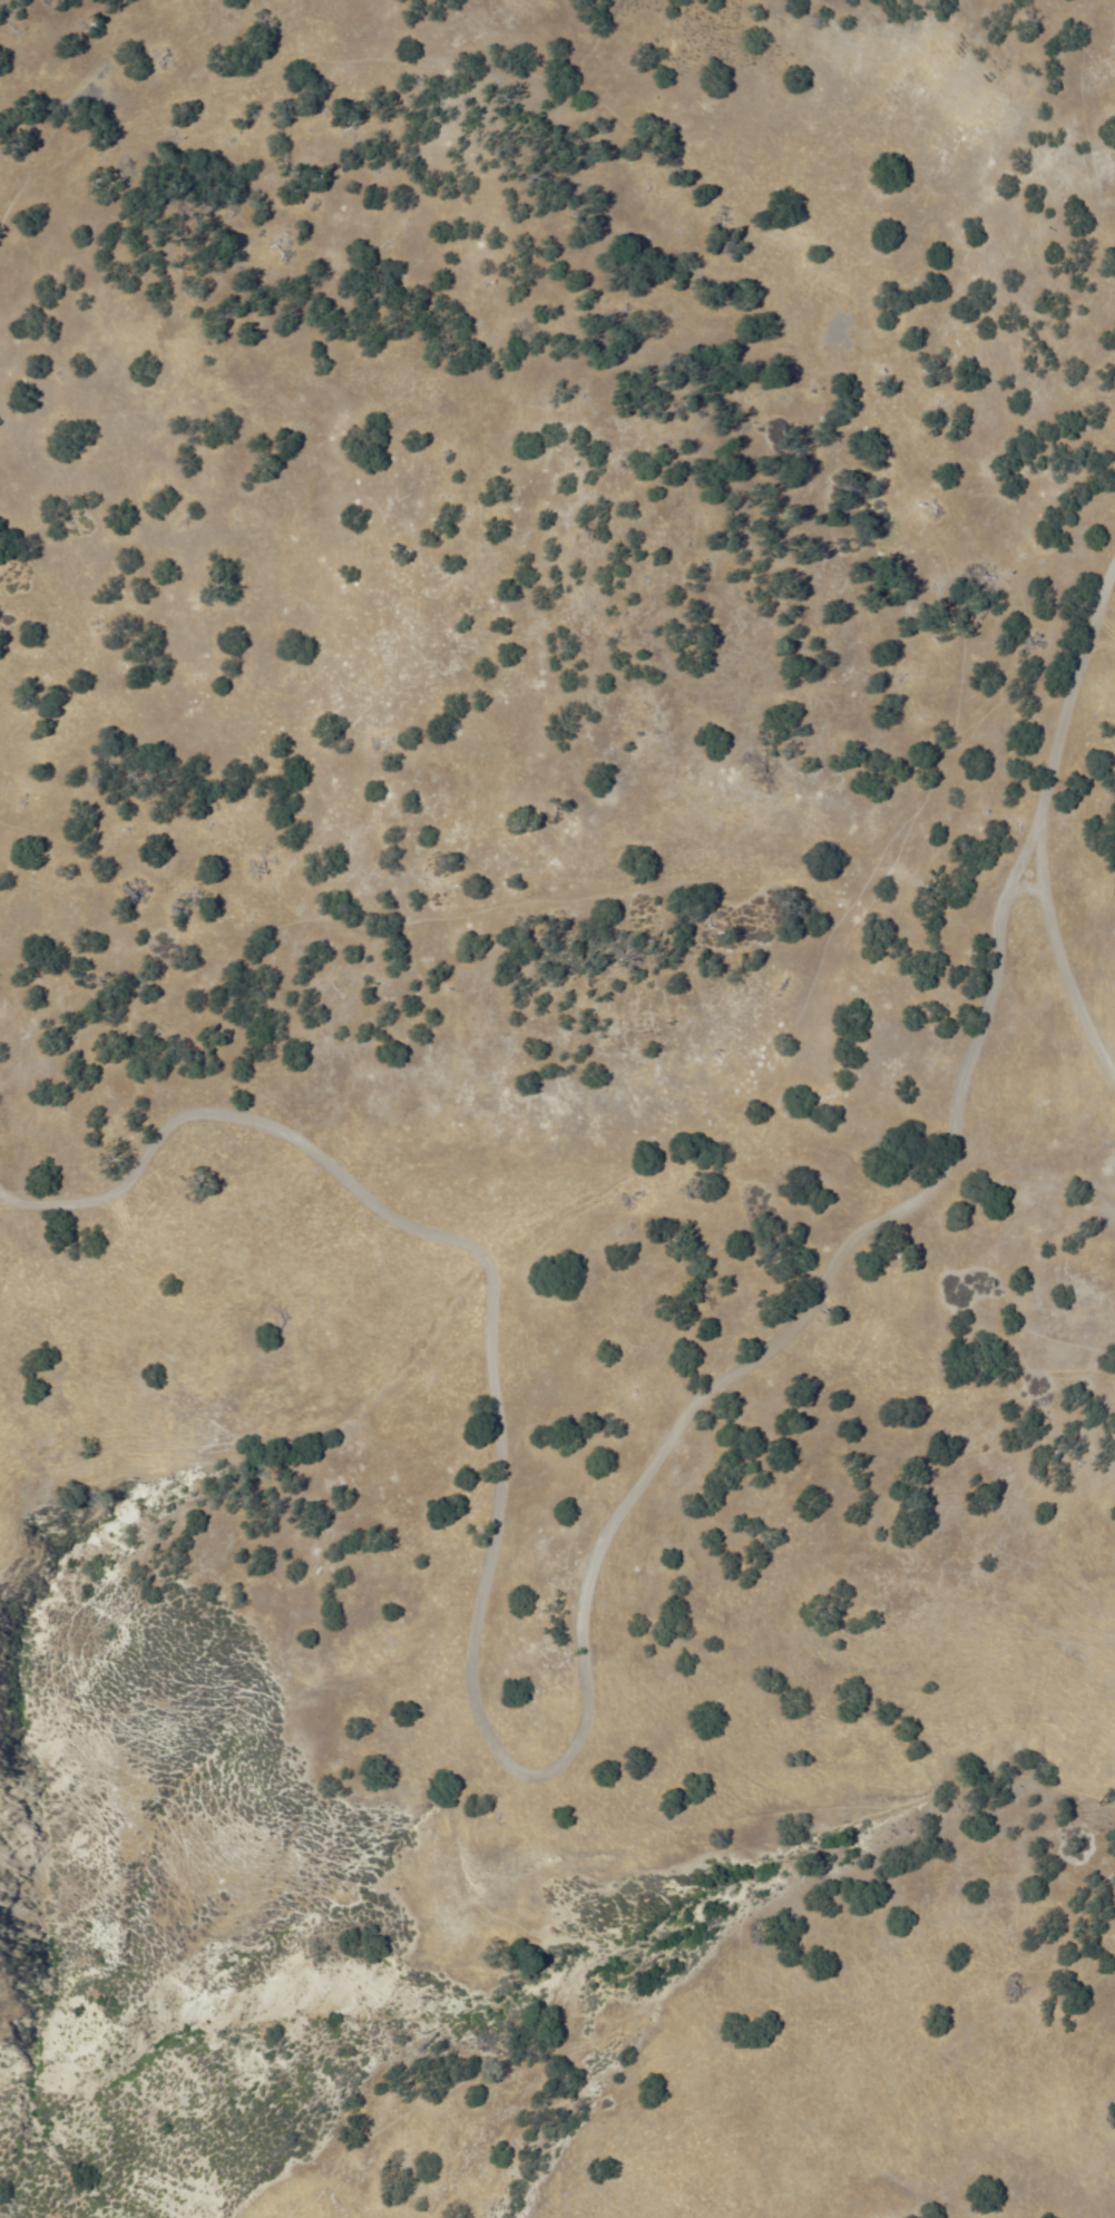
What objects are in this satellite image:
road: (1044, 824)

